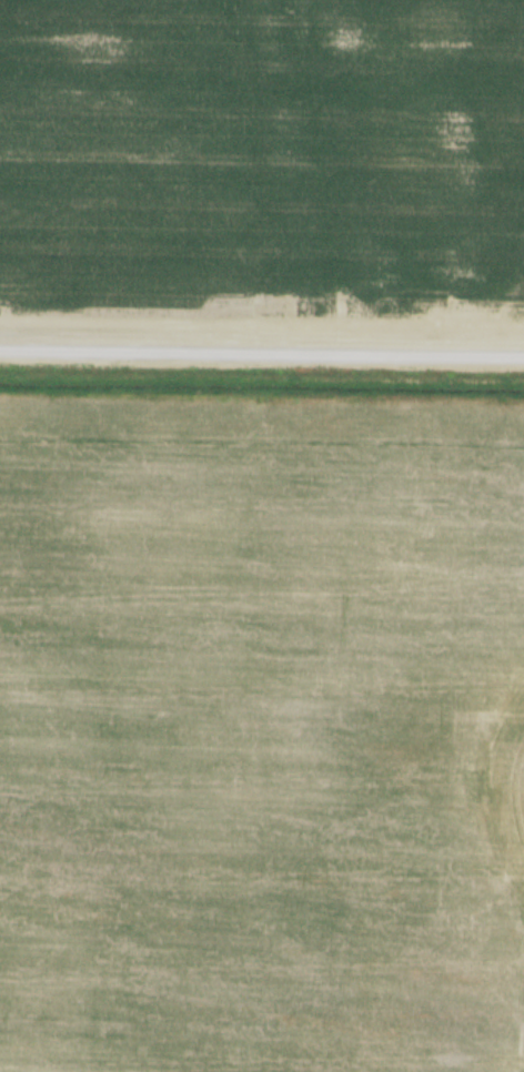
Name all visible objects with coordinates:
road: (262, 345)

